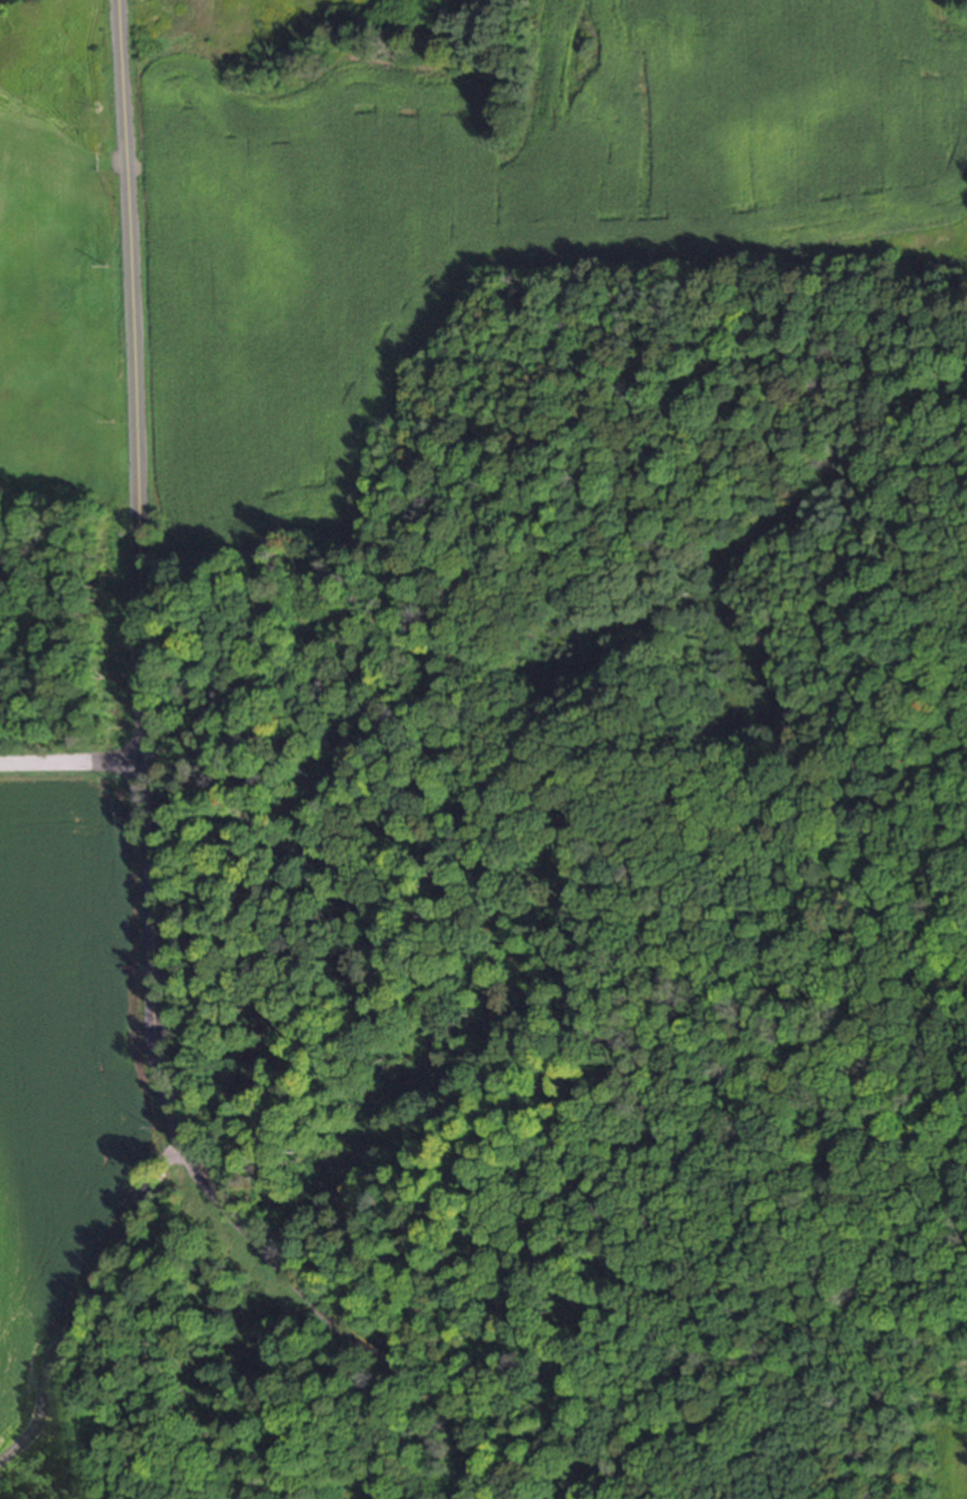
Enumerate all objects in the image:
road: (73, 762)
road: (147, 812)
road: (84, 1295)

